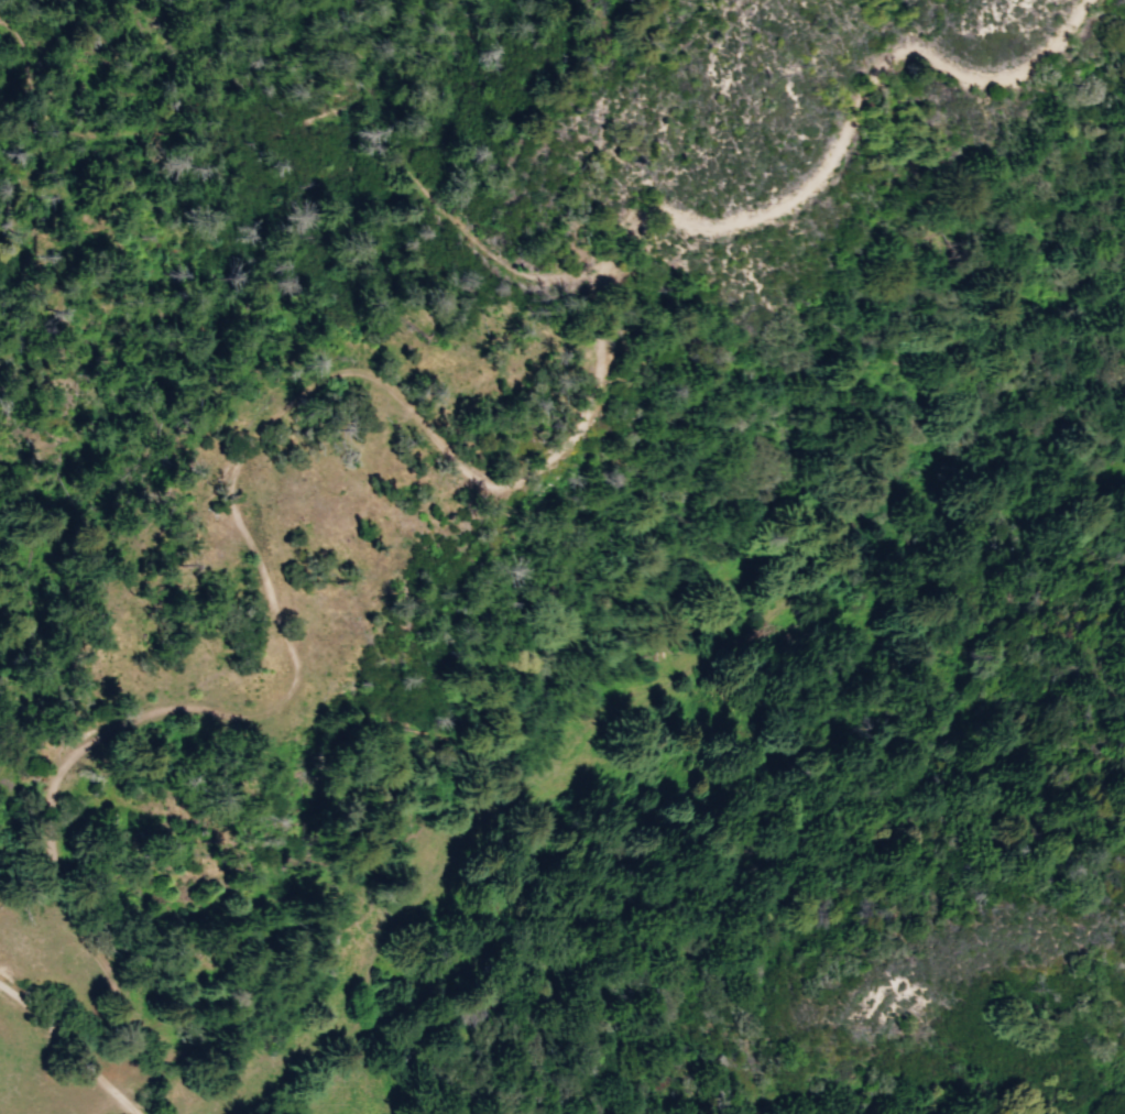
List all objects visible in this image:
road: (446, 187)
road: (614, 367)
road: (243, 536)
road: (68, 1046)
road: (97, 1102)

